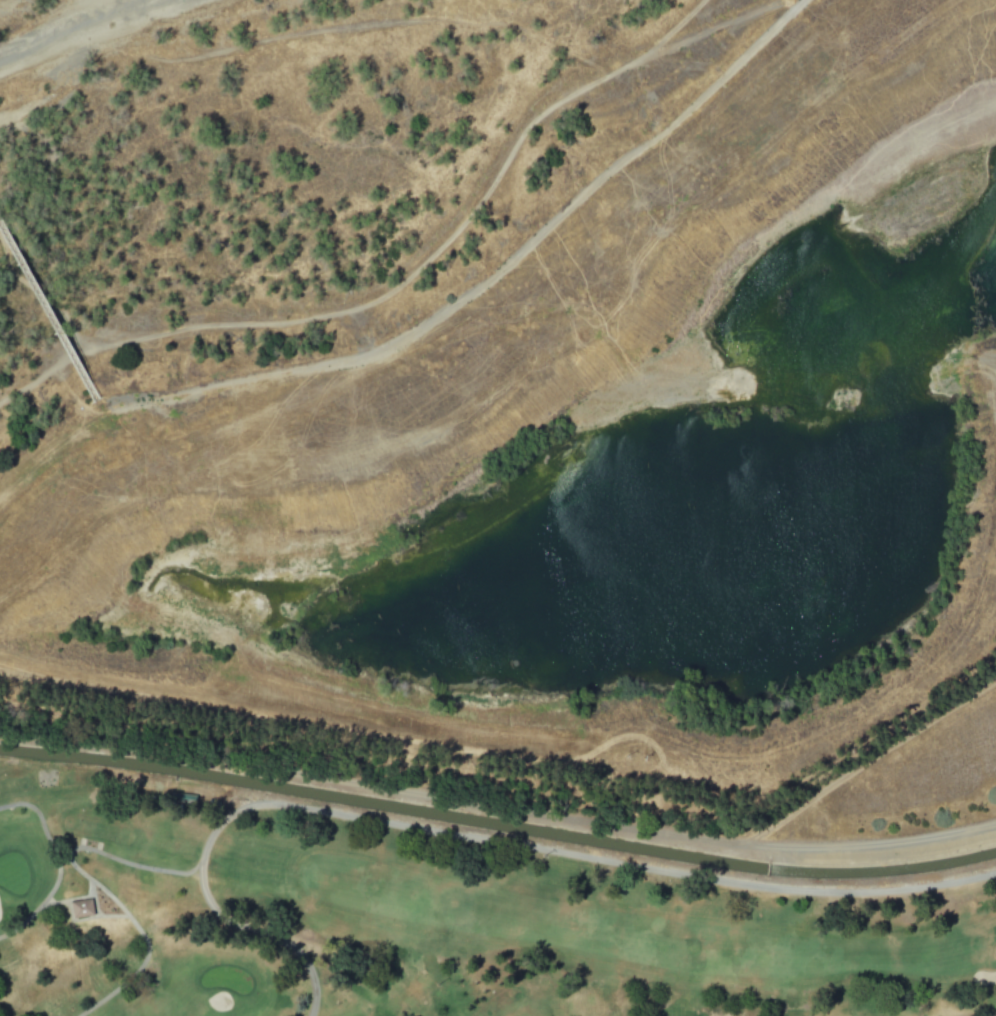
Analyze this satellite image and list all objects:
road: (485, 845)
building: (78, 908)
park: (424, 926)

